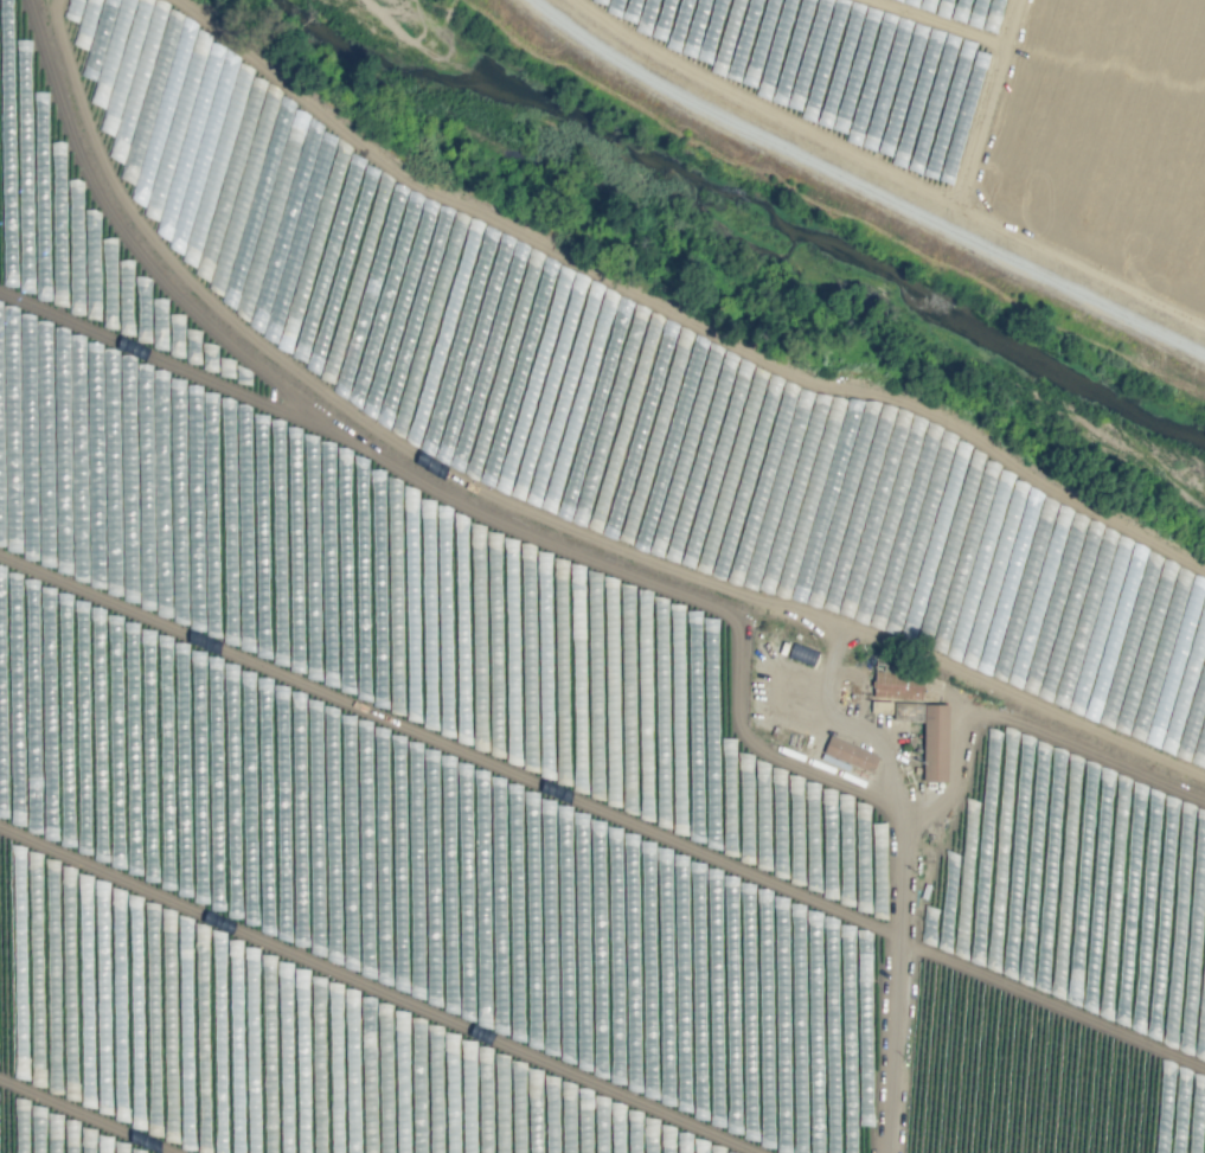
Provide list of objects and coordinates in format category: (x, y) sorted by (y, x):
road: (855, 154)
river: (710, 262)
building: (802, 654)
building: (897, 685)
crop: (536, 692)
building: (879, 706)
building: (935, 743)
building: (850, 754)
road: (899, 978)

